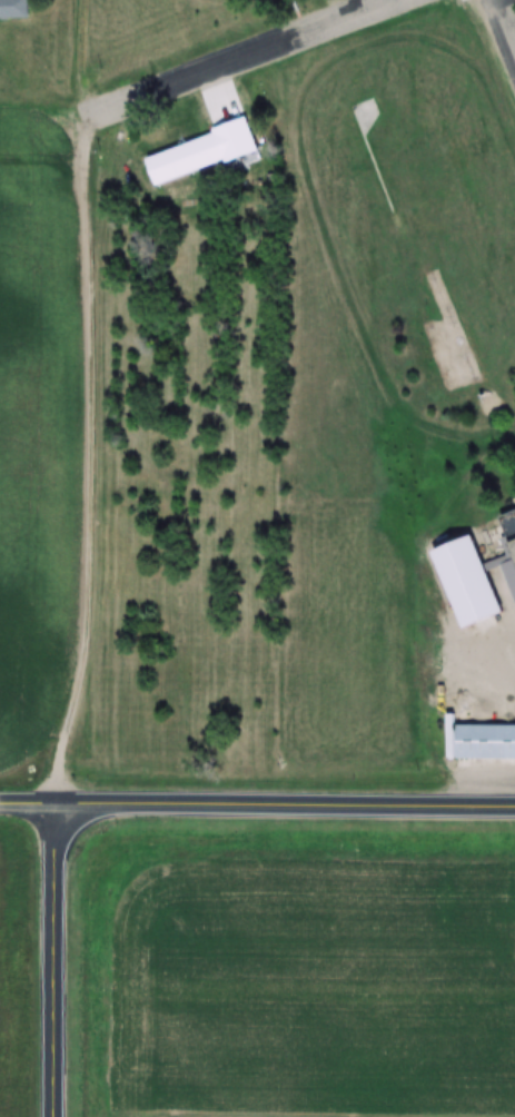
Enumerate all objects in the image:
building: (14, 8)
road: (506, 20)
road: (228, 69)
road: (53, 472)
building: (472, 574)
building: (487, 738)
road: (28, 804)
road: (285, 807)
road: (53, 960)

